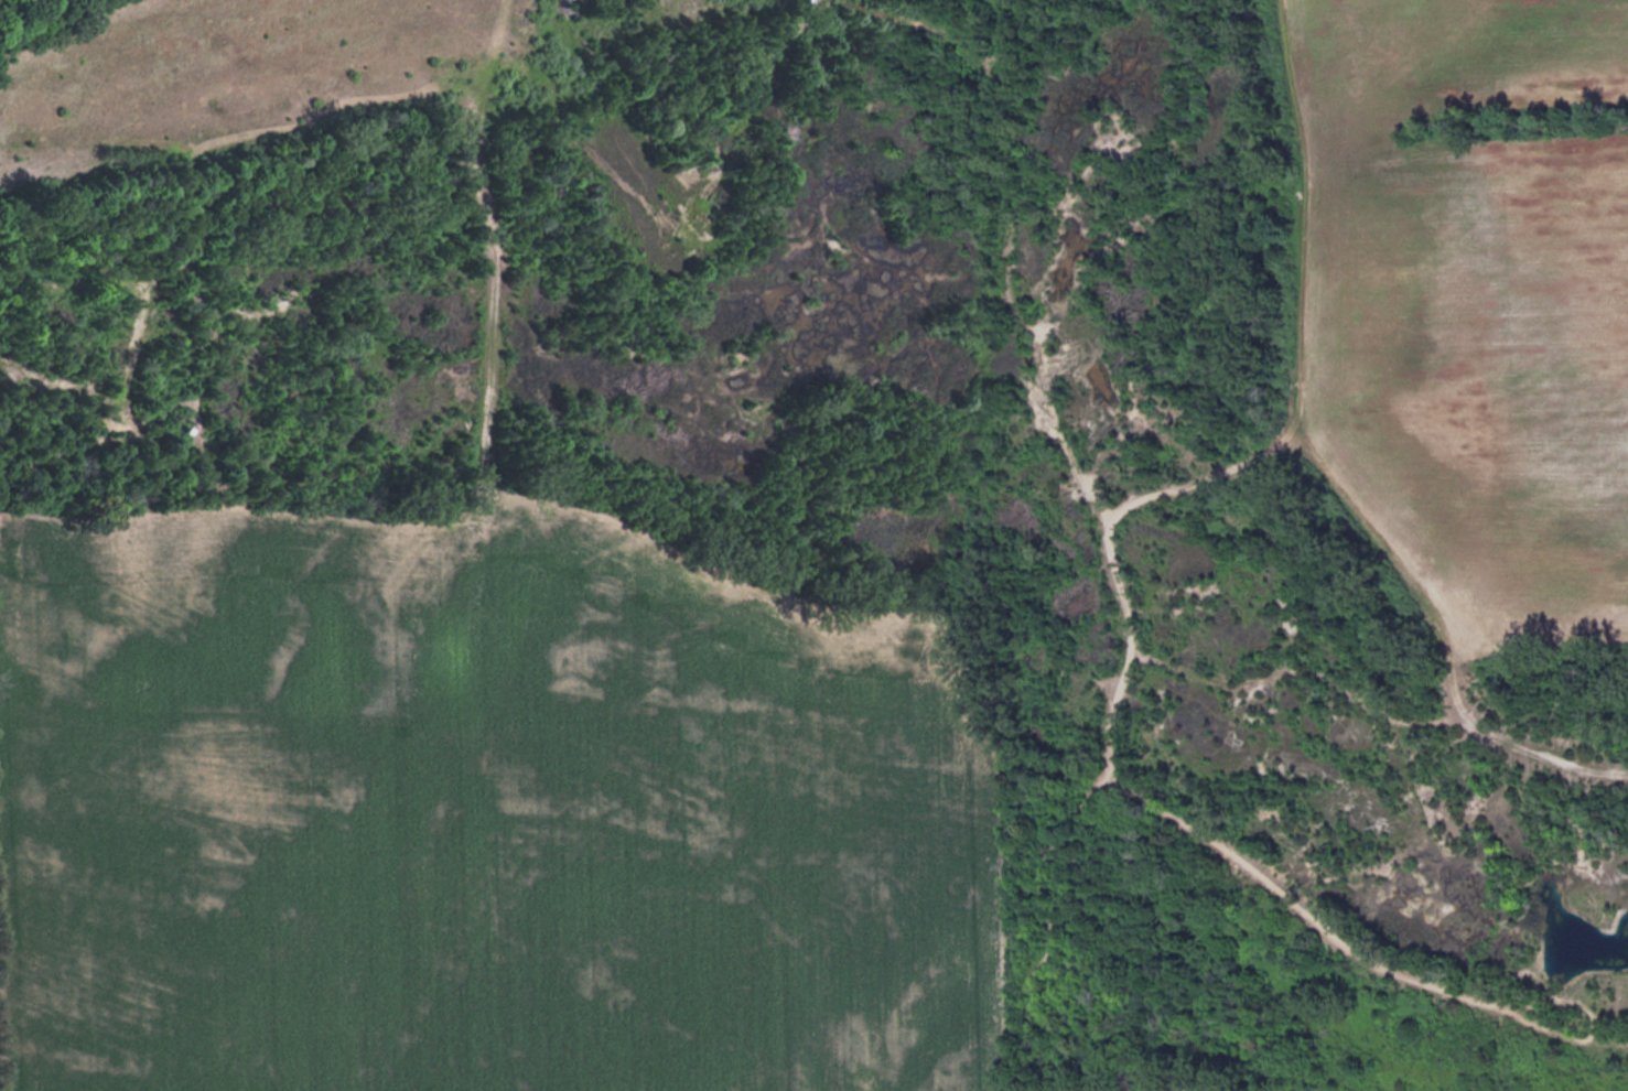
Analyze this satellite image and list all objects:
road: (791, 4)
road: (67, 31)
road: (983, 131)

